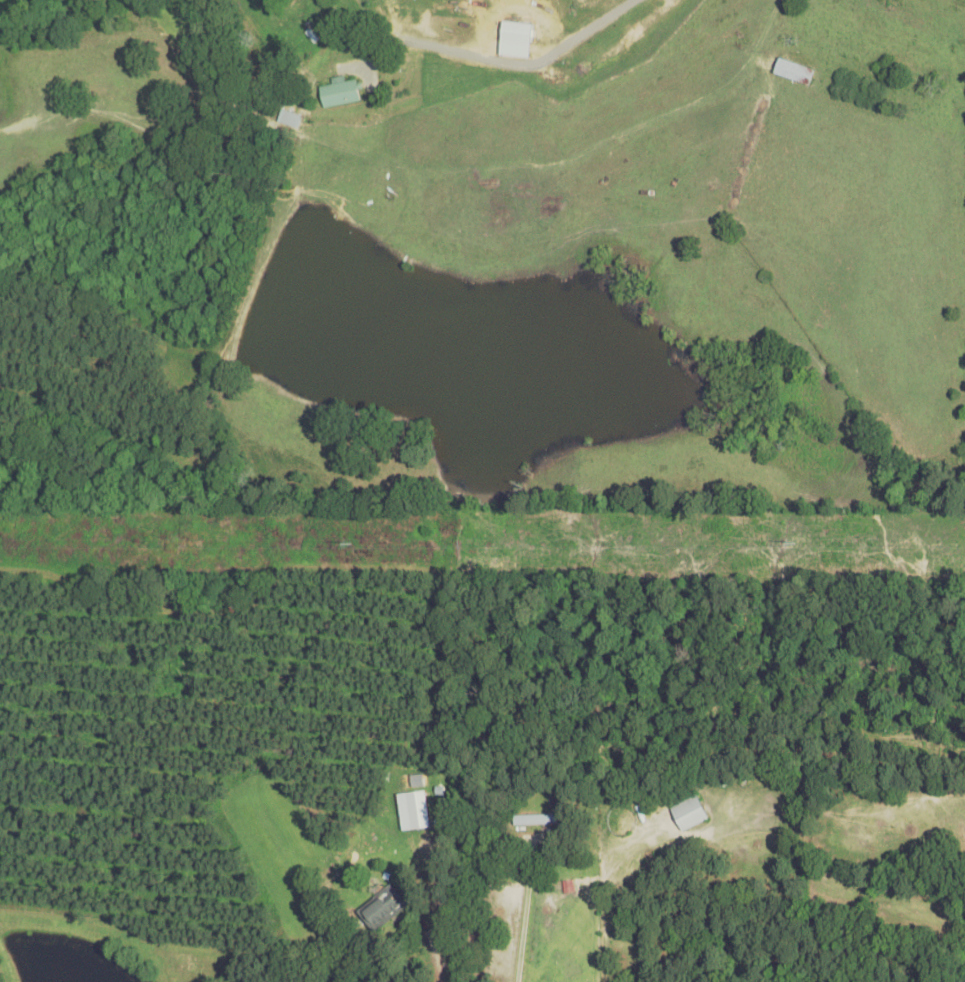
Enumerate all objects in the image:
building: (794, 72)
building: (339, 93)
building: (289, 119)
road: (251, 770)
building: (415, 799)
building: (689, 813)
building: (537, 819)
building: (382, 908)

